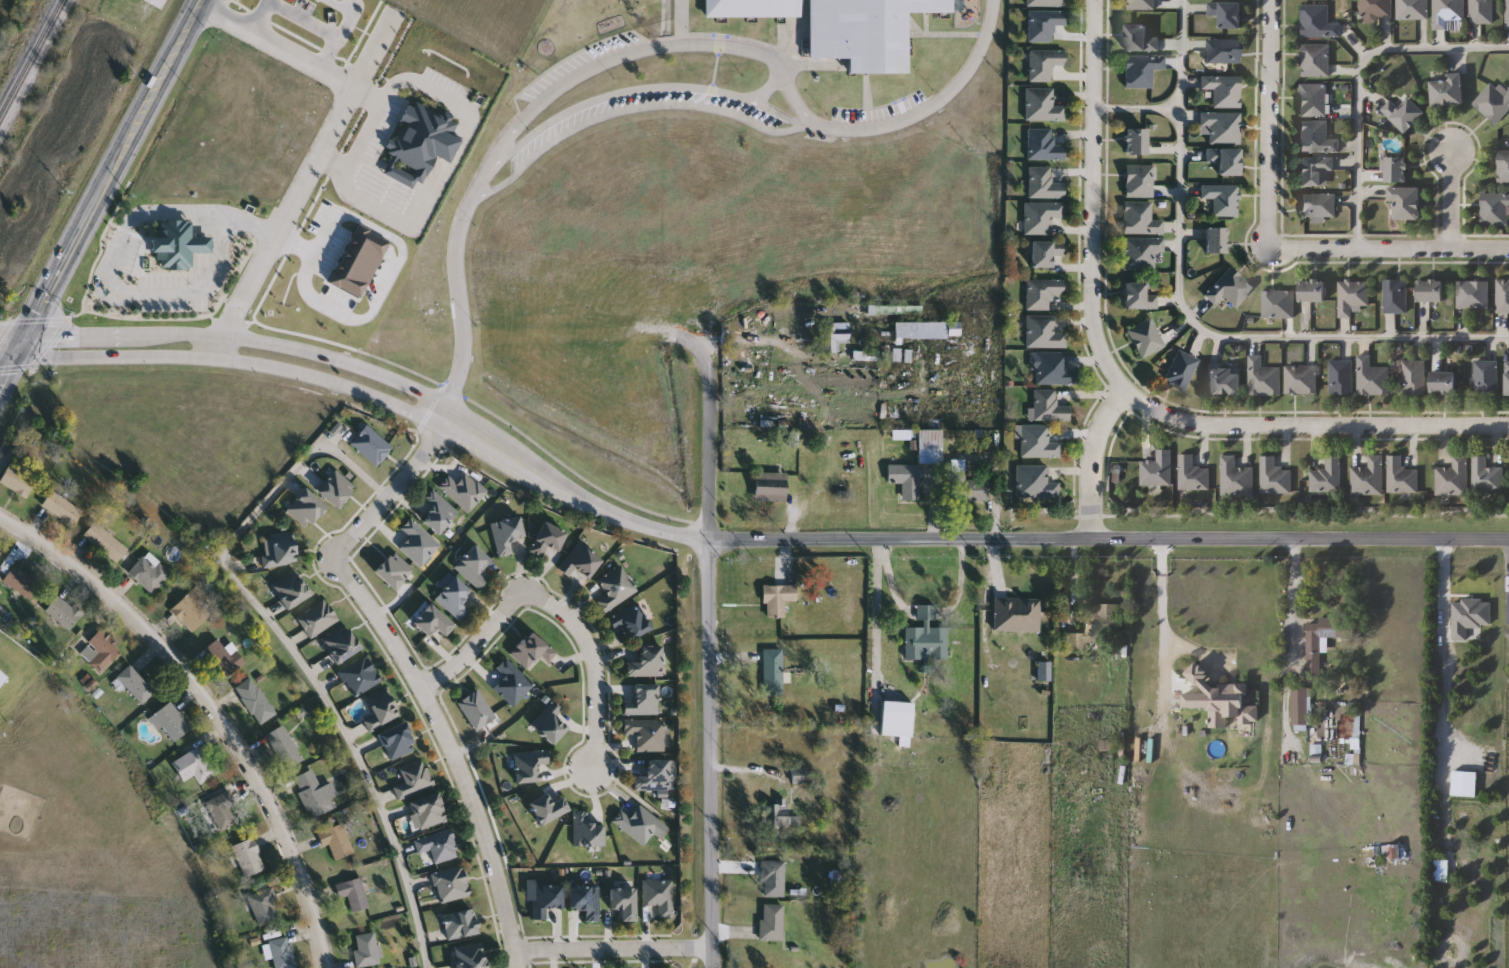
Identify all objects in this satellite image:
building: (1047, 3)
building: (1141, 5)
building: (750, 8)
building: (1376, 9)
building: (1413, 10)
building: (1482, 12)
building: (1227, 14)
building: (1507, 14)
building: (1450, 15)
road: (259, 17)
building: (1322, 20)
road: (681, 21)
road: (347, 22)
building: (1044, 25)
road: (321, 27)
building: (862, 31)
building: (1140, 40)
road: (653, 46)
road: (278, 48)
building: (1224, 51)
building: (1316, 61)
railway: (33, 62)
building: (1045, 64)
building: (1142, 71)
road: (1360, 78)
road: (771, 85)
road: (650, 87)
building: (1224, 91)
building: (1448, 92)
building: (1314, 101)
road: (930, 104)
building: (1494, 104)
road: (461, 106)
building: (1043, 106)
road: (1140, 107)
road: (631, 108)
building: (1405, 114)
road: (1269, 123)
building: (1223, 127)
road: (363, 132)
building: (1316, 138)
building: (1137, 142)
building: (417, 143)
building: (1044, 146)
railway: (82, 156)
building: (1226, 161)
building: (1504, 168)
road: (115, 170)
building: (1315, 170)
building: (1397, 171)
road: (306, 175)
building: (1140, 181)
road: (369, 183)
building: (1044, 184)
road: (1449, 198)
road: (1096, 199)
building: (1222, 199)
building: (1406, 203)
building: (1319, 206)
building: (1494, 209)
building: (1042, 216)
building: (1141, 219)
road: (256, 227)
road: (324, 228)
building: (1217, 240)
building: (174, 242)
road: (1388, 247)
building: (1141, 252)
building: (1045, 253)
road: (398, 257)
building: (356, 259)
road: (456, 276)
road: (110, 280)
road: (303, 281)
building: (1230, 288)
building: (1312, 292)
building: (1431, 292)
building: (1042, 293)
building: (1473, 295)
building: (1503, 296)
building: (1139, 297)
building: (1353, 297)
building: (1396, 297)
building: (1278, 305)
road: (1193, 318)
building: (1043, 333)
building: (833, 336)
building: (1147, 338)
road: (13, 342)
traffic signals: (26, 343)
road: (219, 347)
road: (786, 348)
road: (311, 352)
road: (117, 355)
road: (13, 368)
building: (1053, 369)
building: (1181, 369)
building: (1263, 378)
building: (1342, 378)
building: (1373, 378)
building: (1414, 378)
building: (1486, 378)
building: (1507, 379)
building: (1301, 380)
road: (332, 382)
building: (1225, 382)
building: (1443, 383)
building: (1048, 406)
road: (445, 417)
road: (1311, 424)
building: (1037, 441)
road: (502, 458)
road: (1093, 463)
building: (917, 464)
building: (1157, 470)
building: (1192, 474)
building: (1487, 476)
building: (1274, 477)
building: (1327, 477)
building: (1369, 477)
building: (1402, 477)
building: (1236, 478)
building: (1453, 478)
building: (18, 480)
building: (1035, 482)
building: (966, 483)
building: (771, 486)
road: (389, 493)
building: (64, 510)
building: (438, 511)
road: (634, 521)
building: (507, 533)
road: (1109, 538)
building: (548, 539)
building: (108, 543)
building: (281, 550)
building: (581, 560)
building: (474, 567)
building: (150, 573)
road: (959, 582)
road: (889, 583)
building: (616, 588)
road: (1442, 588)
building: (293, 591)
road: (1294, 593)
road: (1160, 597)
building: (454, 598)
building: (778, 600)
building: (193, 610)
road: (555, 610)
building: (1508, 611)
building: (64, 612)
road: (926, 613)
building: (1017, 614)
building: (318, 618)
building: (433, 621)
building: (631, 623)
building: (1096, 627)
building: (926, 637)
building: (342, 644)
road: (294, 649)
building: (532, 650)
building: (105, 652)
building: (222, 658)
building: (1315, 658)
building: (646, 662)
building: (1043, 671)
building: (773, 673)
building: (14, 675)
building: (360, 676)
building: (513, 682)
building: (136, 684)
building: (256, 700)
building: (643, 701)
building: (1300, 707)
road: (208, 708)
building: (380, 709)
building: (477, 710)
building: (897, 719)
building: (171, 722)
building: (551, 723)
building: (646, 734)
building: (398, 741)
building: (285, 747)
road: (449, 753)
road: (711, 754)
building: (196, 765)
building: (529, 765)
building: (800, 775)
building: (654, 776)
building: (414, 778)
building: (316, 794)
building: (548, 808)
building: (223, 809)
building: (429, 811)
building: (638, 823)
building: (587, 831)
building: (337, 841)
building: (438, 846)
building: (1395, 853)
building: (250, 857)
building: (774, 878)
building: (452, 884)
building: (354, 893)
building: (660, 896)
building: (546, 899)
building: (586, 900)
building: (624, 901)
building: (265, 906)
building: (772, 922)
building: (461, 923)
building: (367, 950)
road: (614, 950)
building: (283, 953)
building: (471, 956)

